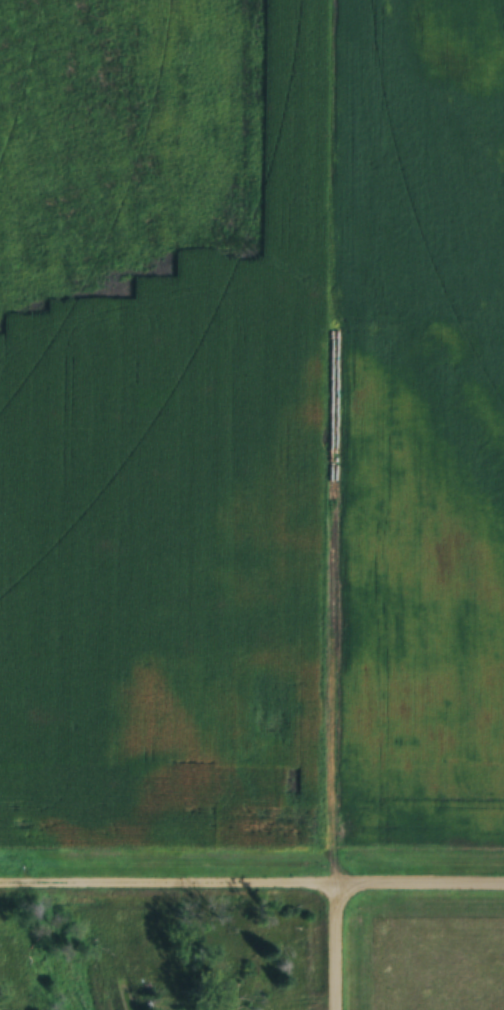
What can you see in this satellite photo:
road: (251, 886)
road: (336, 949)

